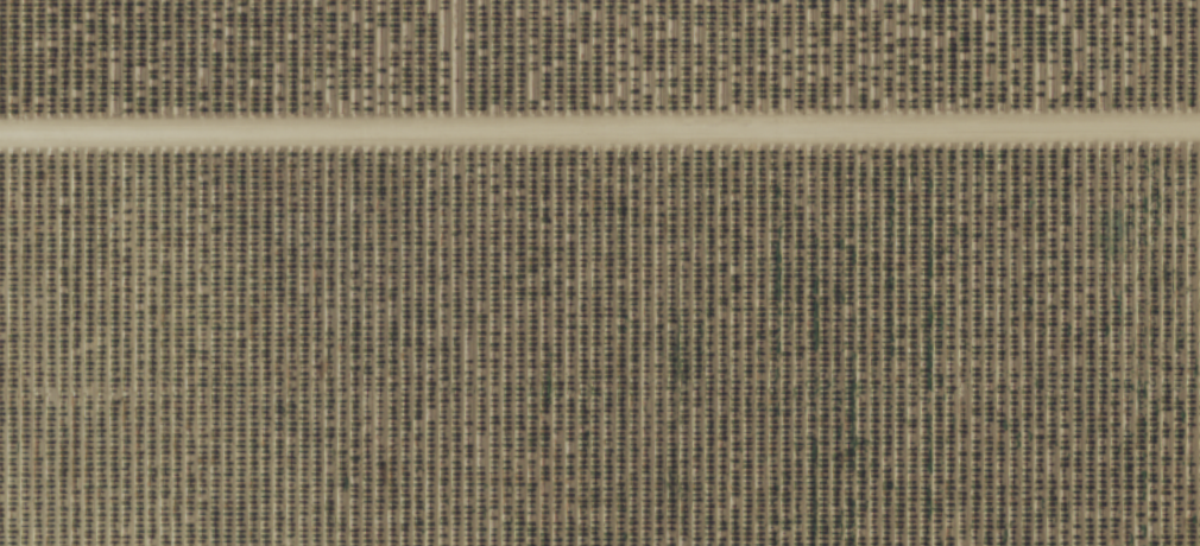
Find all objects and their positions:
road: (599, 133)

